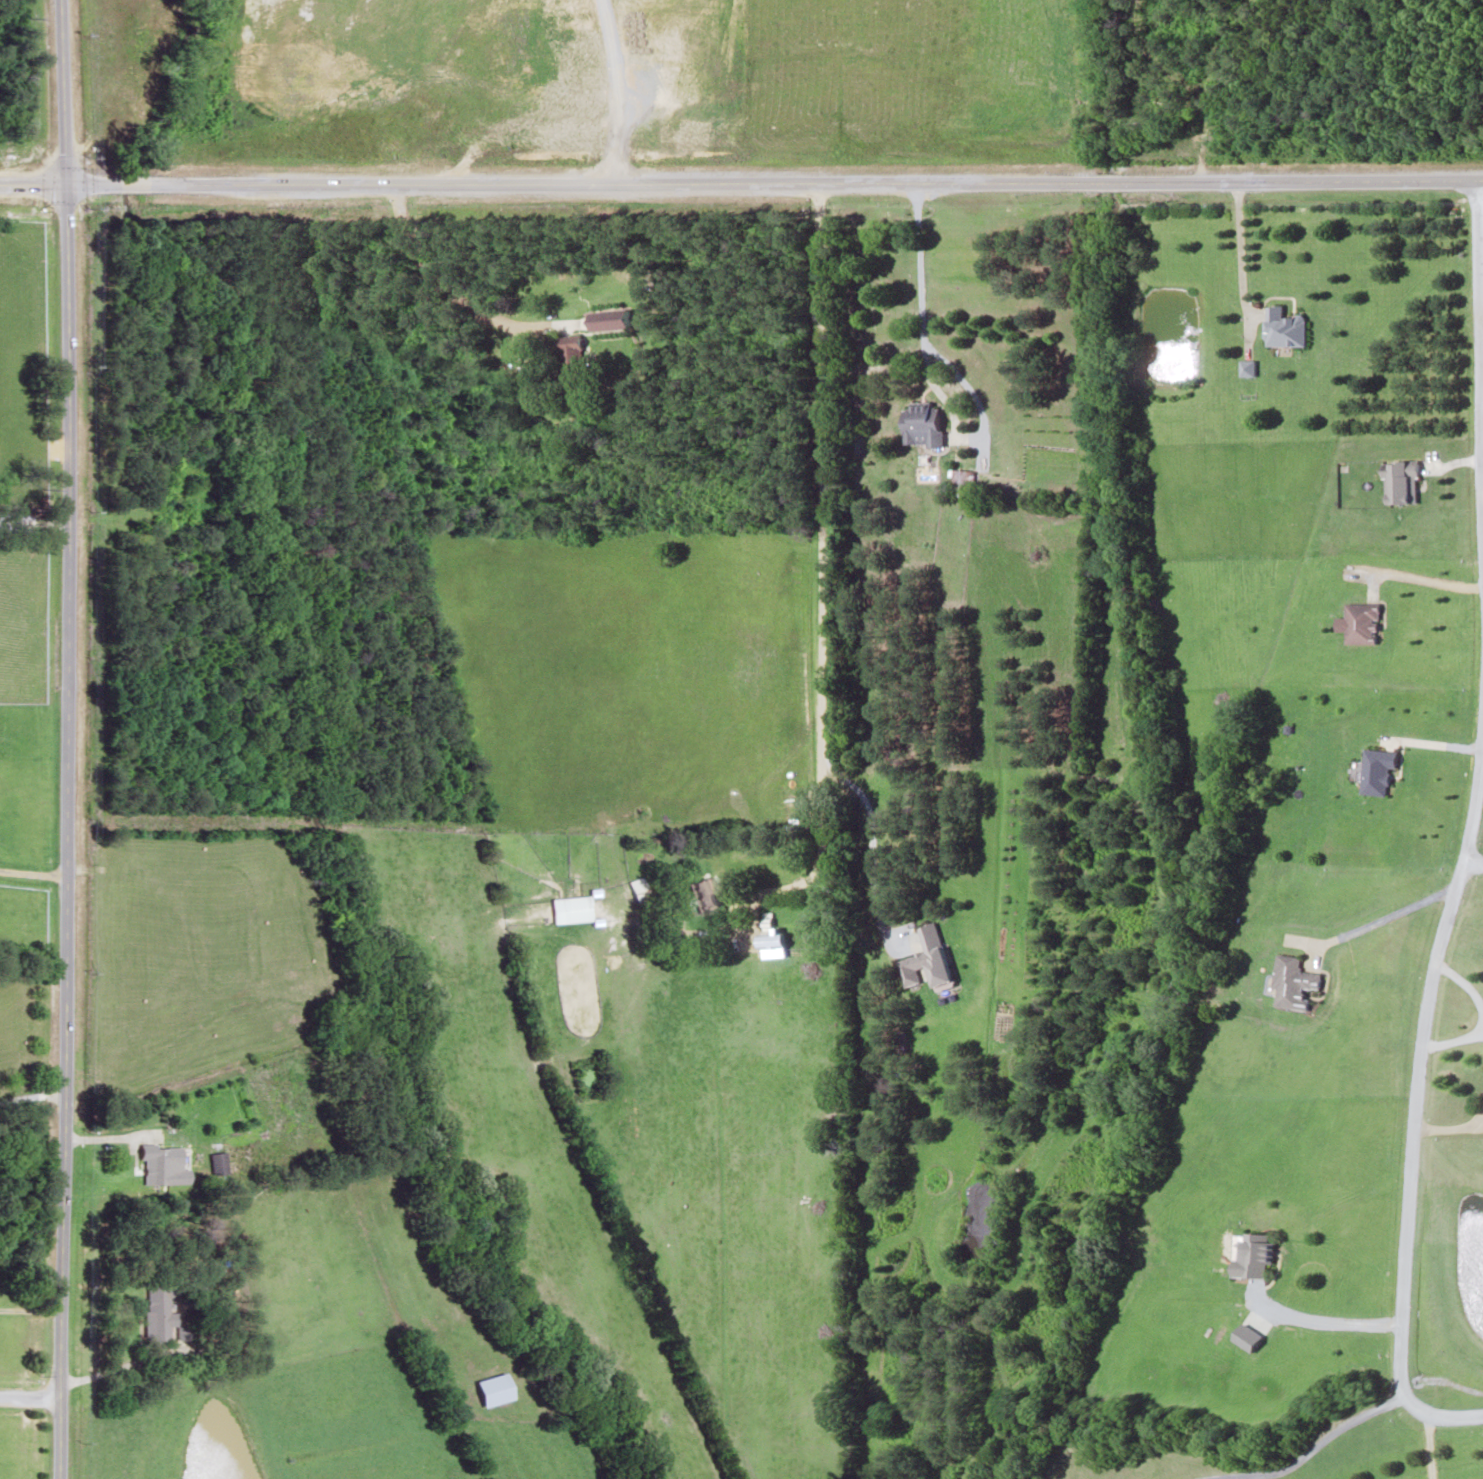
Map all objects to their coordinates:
road: (773, 181)
road: (32, 184)
road: (454, 297)
building: (607, 319)
building: (1282, 327)
road: (1479, 329)
building: (567, 357)
building: (921, 425)
building: (1400, 480)
road: (33, 520)
road: (828, 581)
building: (1360, 623)
road: (65, 739)
building: (1375, 770)
road: (31, 871)
building: (700, 893)
building: (567, 908)
building: (664, 936)
building: (925, 959)
building: (1292, 982)
road: (31, 1096)
road: (1413, 1098)
building: (149, 1163)
building: (1250, 1253)
road: (30, 1308)
building: (154, 1313)
road: (30, 1397)

